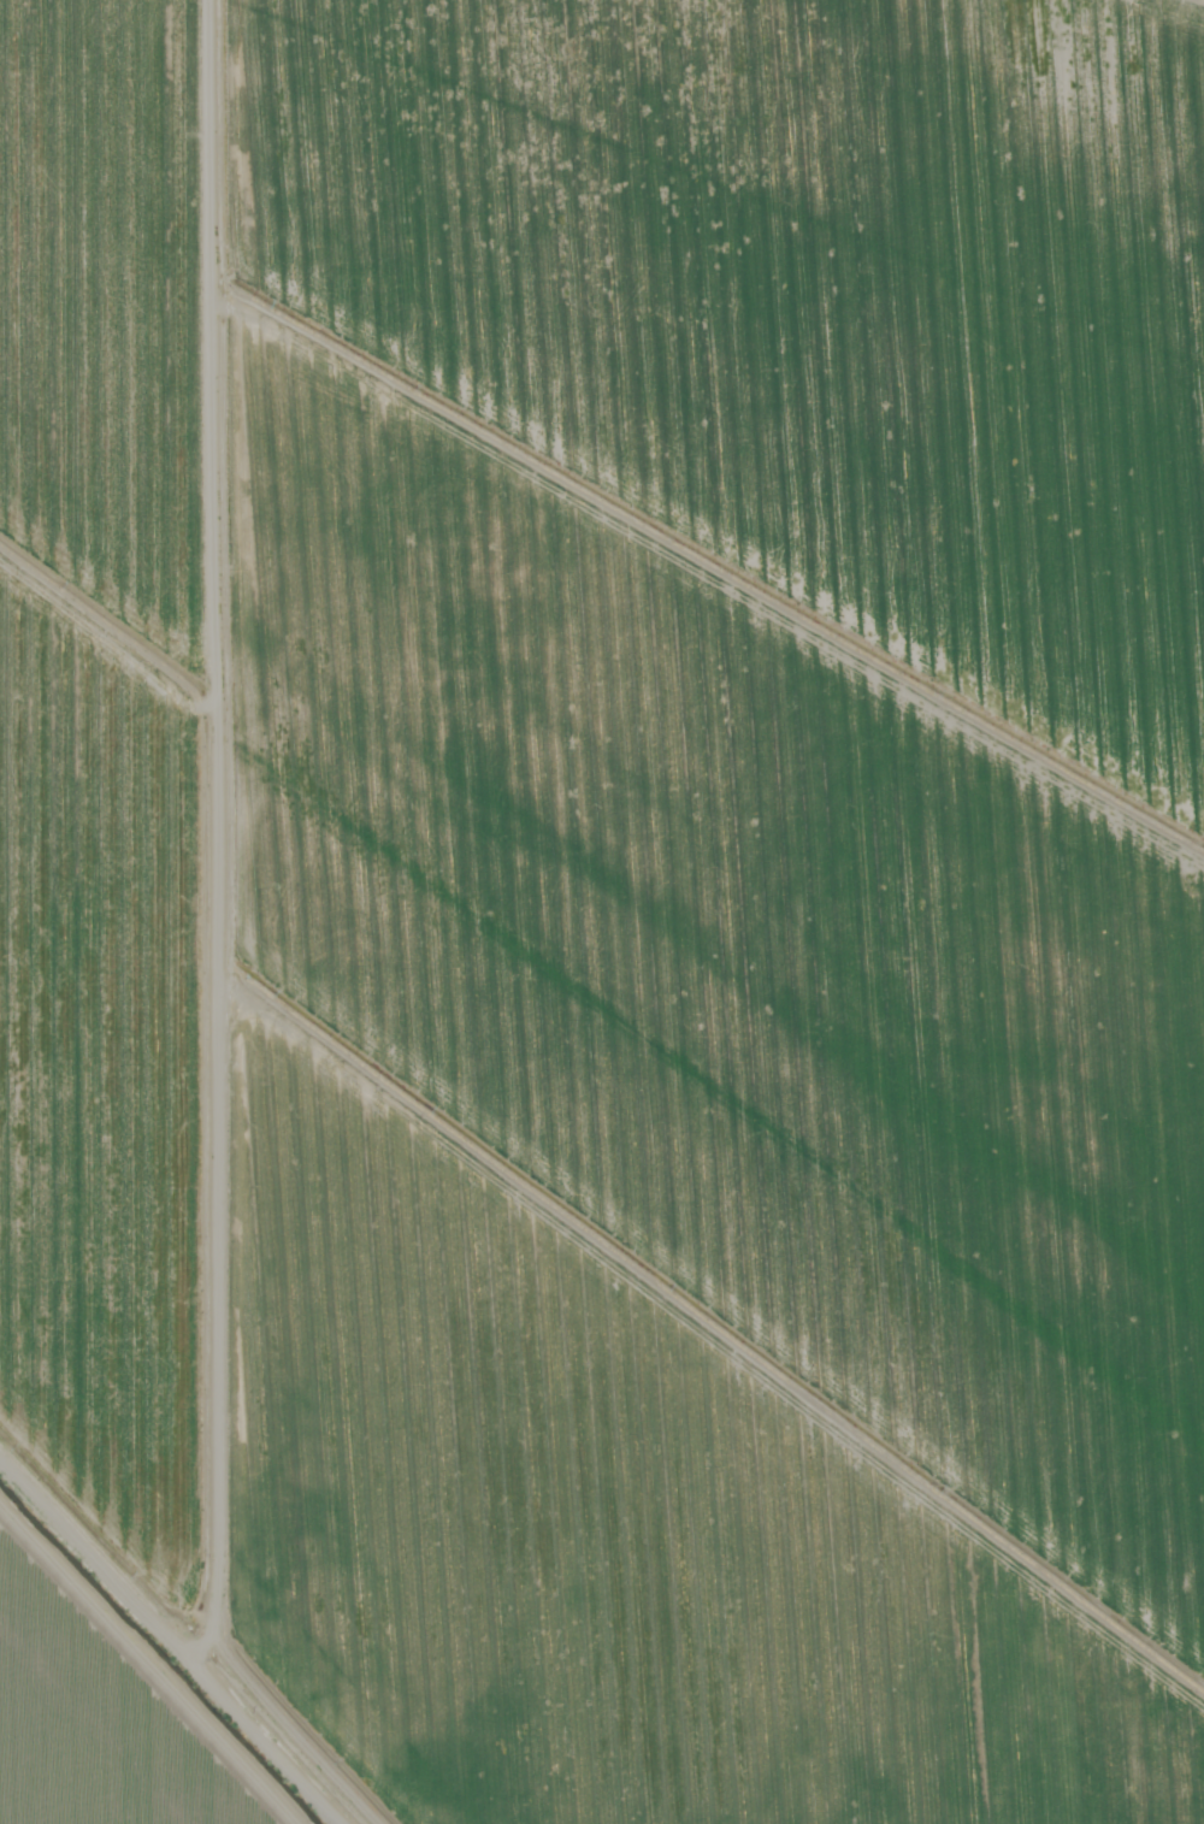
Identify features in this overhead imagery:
crop: (602, 911)
road: (189, 955)
road: (85, 1468)

